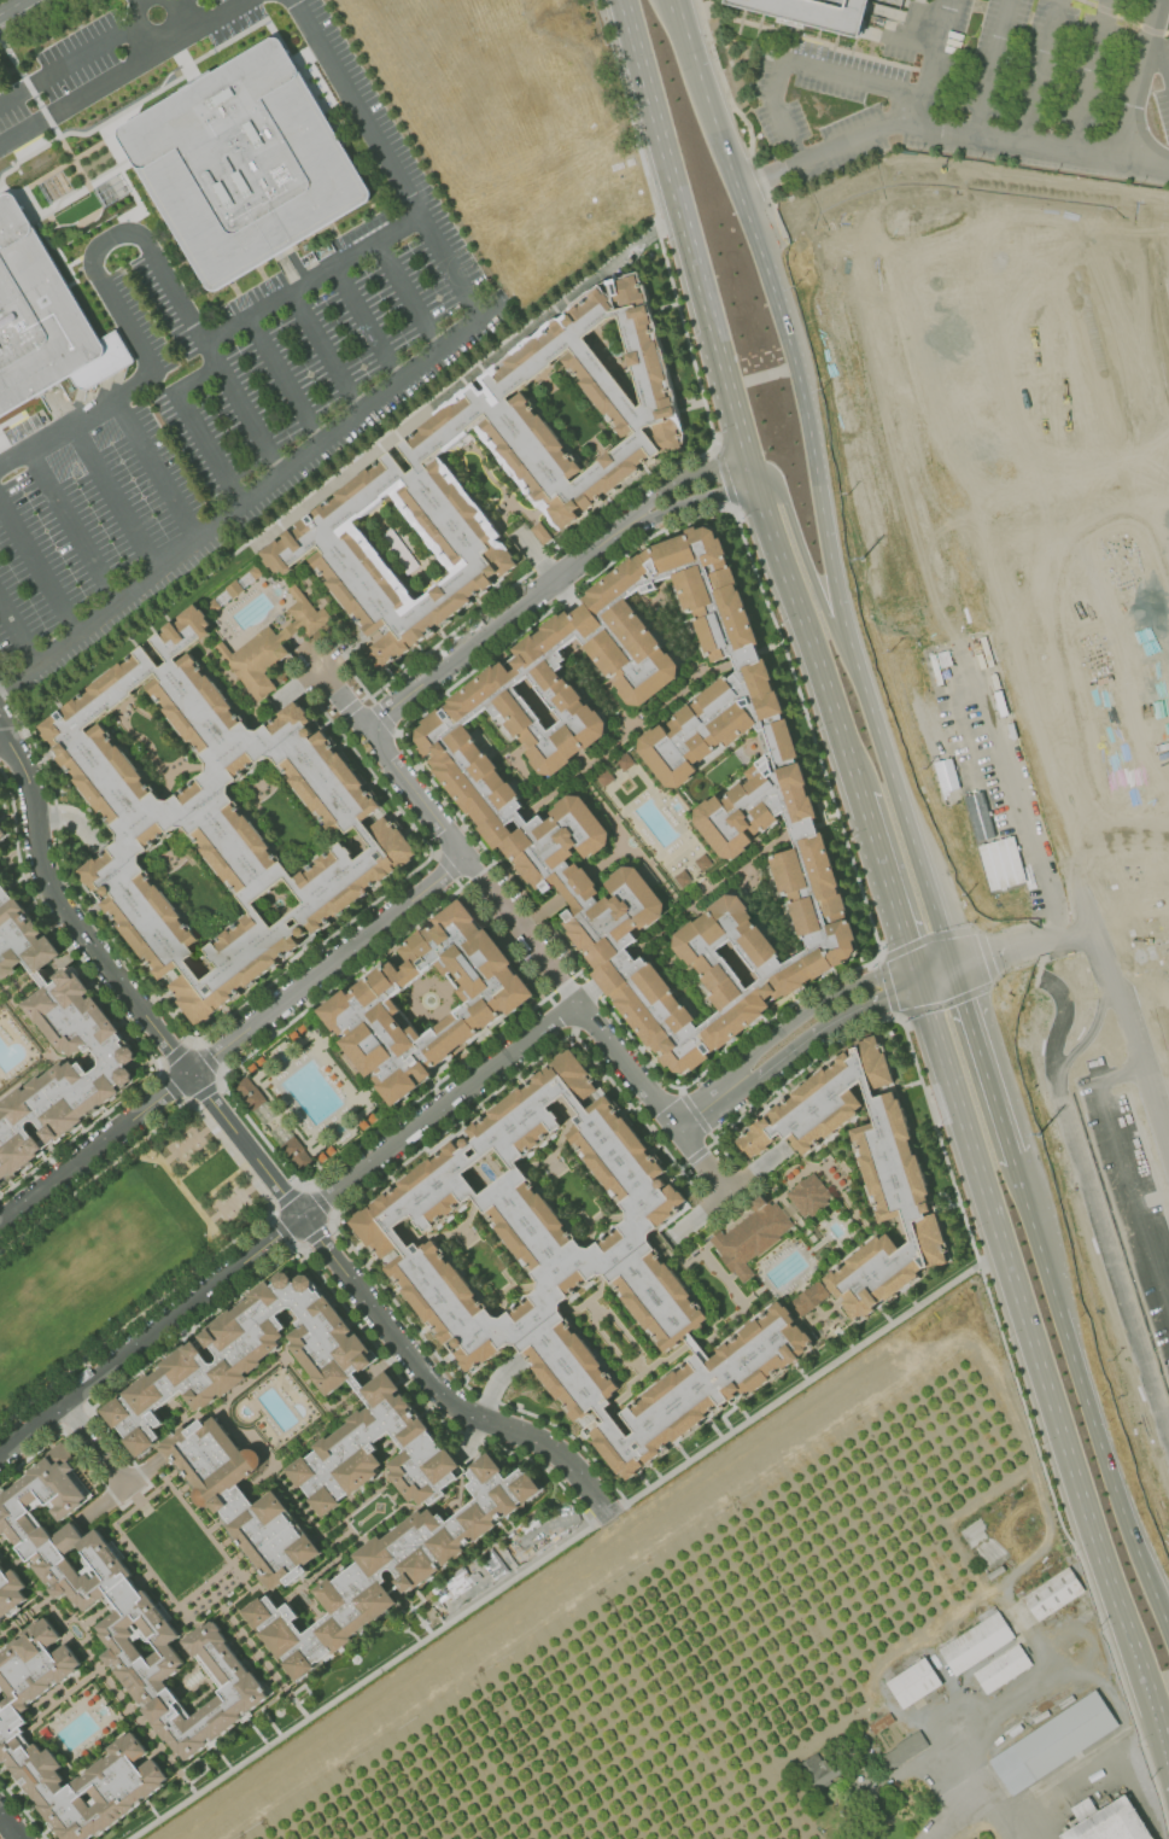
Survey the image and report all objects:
road: (173, 0)
road: (134, 2)
road: (13, 7)
road: (703, 7)
road: (674, 11)
building: (811, 13)
road: (30, 18)
road: (688, 18)
road: (1121, 19)
road: (156, 34)
road: (814, 42)
road: (162, 57)
road: (1158, 57)
road: (70, 59)
road: (933, 63)
road: (797, 65)
road: (990, 68)
road: (1041, 71)
road: (1089, 75)
road: (1139, 77)
parking lot: (976, 89)
road: (946, 130)
road: (8, 144)
road: (382, 160)
building: (244, 163)
road: (955, 179)
road: (130, 229)
road: (77, 239)
road: (407, 292)
building: (43, 320)
road: (364, 322)
road: (206, 337)
road: (323, 350)
road: (760, 376)
road: (282, 379)
road: (730, 399)
road: (240, 408)
road: (193, 425)
road: (713, 430)
road: (340, 467)
road: (152, 468)
building: (546, 472)
road: (680, 479)
road: (269, 483)
road: (818, 492)
road: (113, 495)
road: (689, 501)
road: (70, 524)
building: (540, 533)
power tower: (869, 557)
road: (40, 567)
building: (256, 572)
building: (235, 589)
road: (822, 605)
building: (214, 606)
road: (495, 625)
road: (18, 636)
building: (271, 646)
road: (987, 679)
road: (362, 687)
building: (625, 761)
building: (604, 777)
road: (1015, 783)
road: (1009, 795)
building: (768, 798)
building: (977, 816)
building: (216, 819)
building: (2, 831)
building: (703, 862)
building: (1000, 863)
building: (0, 876)
building: (683, 877)
road: (887, 886)
road: (498, 904)
road: (924, 939)
road: (1017, 939)
road: (986, 956)
road: (1023, 963)
traffic signals: (951, 968)
road: (934, 973)
traffic signals: (917, 977)
road: (885, 988)
road: (947, 1003)
building: (361, 1005)
road: (116, 1014)
road: (223, 1020)
road: (794, 1022)
road: (1093, 1026)
building: (300, 1029)
building: (81, 1032)
building: (292, 1035)
road: (232, 1041)
road: (805, 1043)
road: (174, 1053)
road: (208, 1058)
building: (259, 1062)
road: (981, 1064)
building: (251, 1068)
road: (221, 1076)
road: (171, 1090)
road: (203, 1093)
building: (249, 1093)
building: (370, 1117)
road: (688, 1122)
building: (362, 1125)
power tower: (1050, 1138)
building: (329, 1150)
building: (296, 1152)
road: (253, 1157)
building: (321, 1157)
road: (701, 1162)
building: (864, 1170)
road: (1126, 1172)
building: (0, 1183)
road: (367, 1191)
road: (726, 1195)
building: (808, 1195)
road: (1088, 1197)
road: (264, 1198)
road: (964, 1219)
road: (288, 1228)
road: (282, 1232)
building: (752, 1236)
park: (117, 1253)
road: (308, 1259)
building: (573, 1269)
building: (808, 1298)
road: (1042, 1361)
road: (1091, 1391)
building: (150, 1395)
road: (1165, 1428)
road: (93, 1443)
building: (242, 1499)
road: (1017, 1551)
building: (0, 1560)
building: (391, 1569)
road: (1017, 1569)
building: (10, 1593)
building: (1053, 1594)
building: (124, 1609)
building: (976, 1642)
building: (1001, 1668)
road: (358, 1681)
building: (913, 1682)
road: (992, 1717)
building: (881, 1722)
building: (11, 1729)
building: (1053, 1742)
building: (905, 1750)
building: (818, 1771)
road: (1082, 1781)
road: (22, 1809)
building: (1106, 1821)
road: (959, 1822)
road: (8, 1827)
building: (870, 1833)

